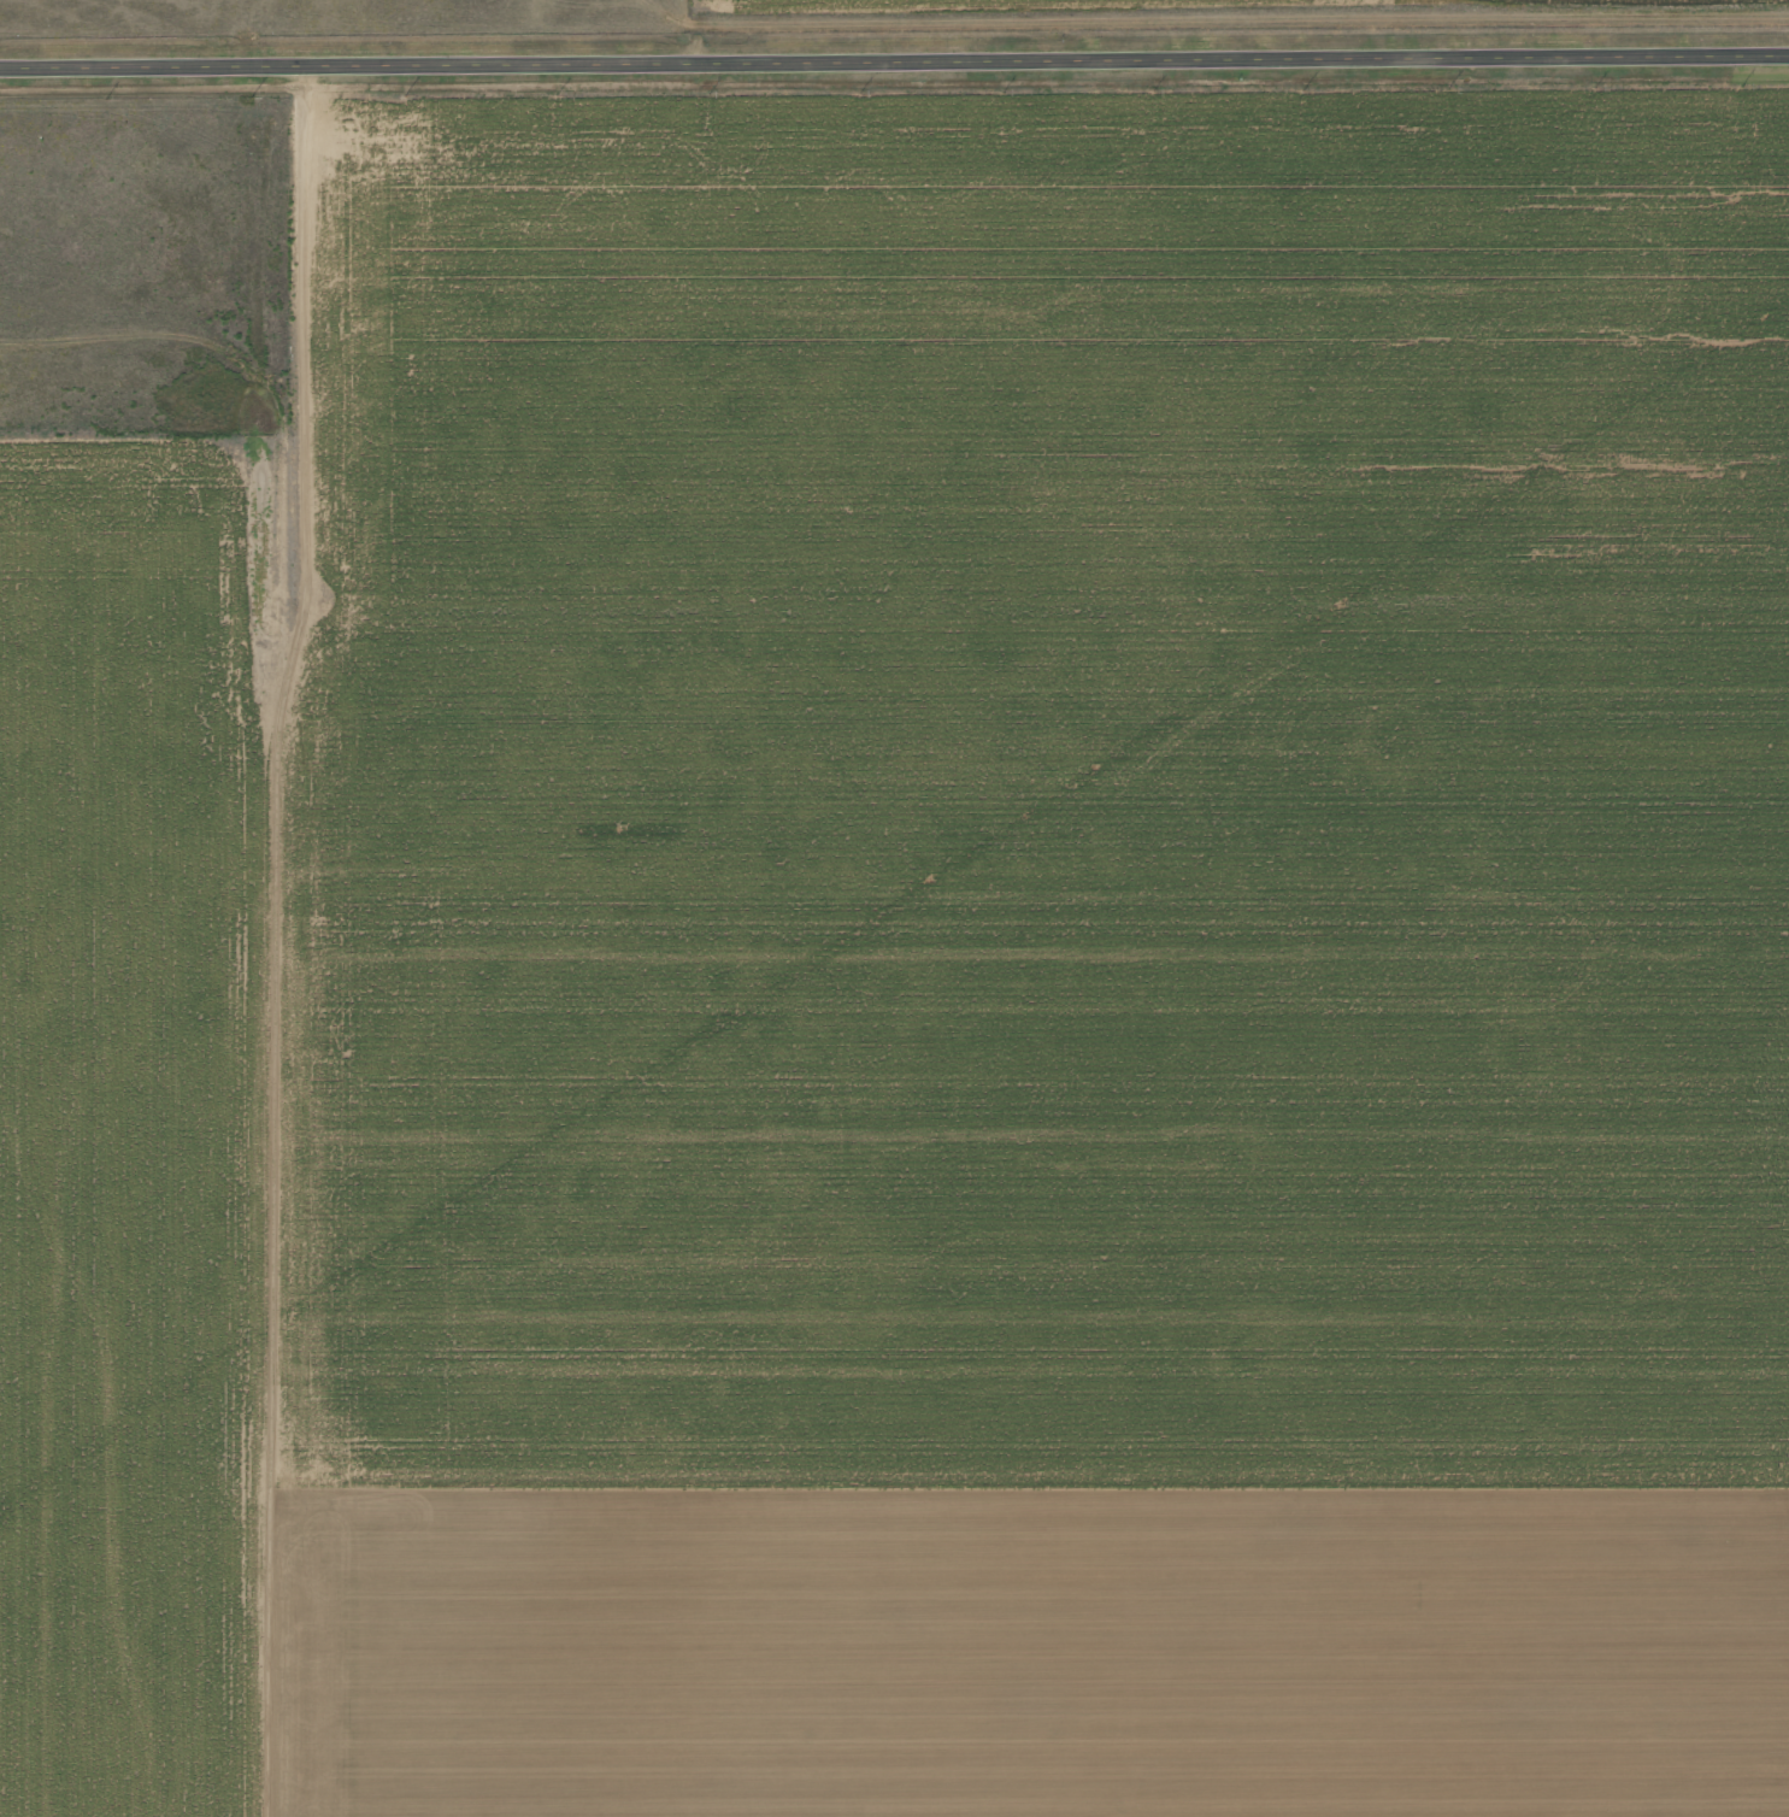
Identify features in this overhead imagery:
road: (894, 63)

